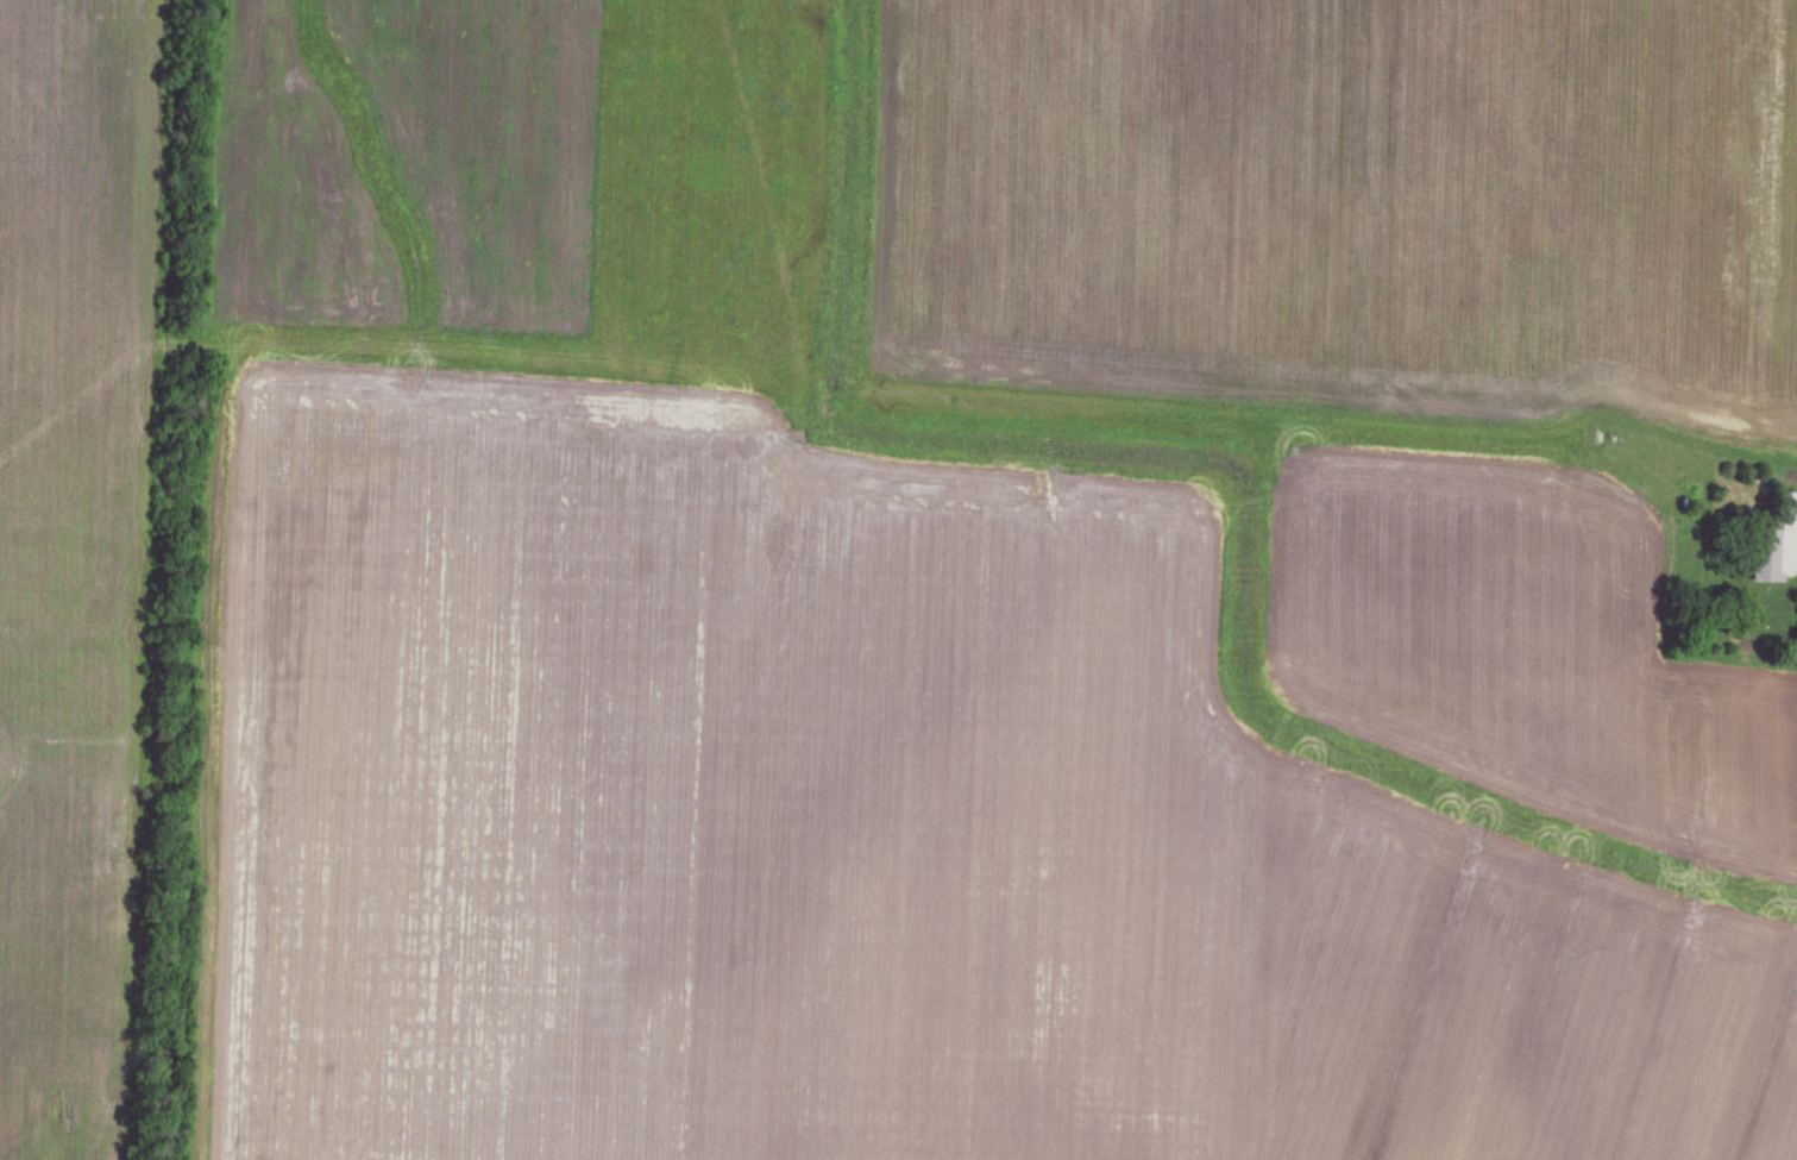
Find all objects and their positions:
building: (1789, 502)
road: (1791, 532)
building: (1752, 644)

